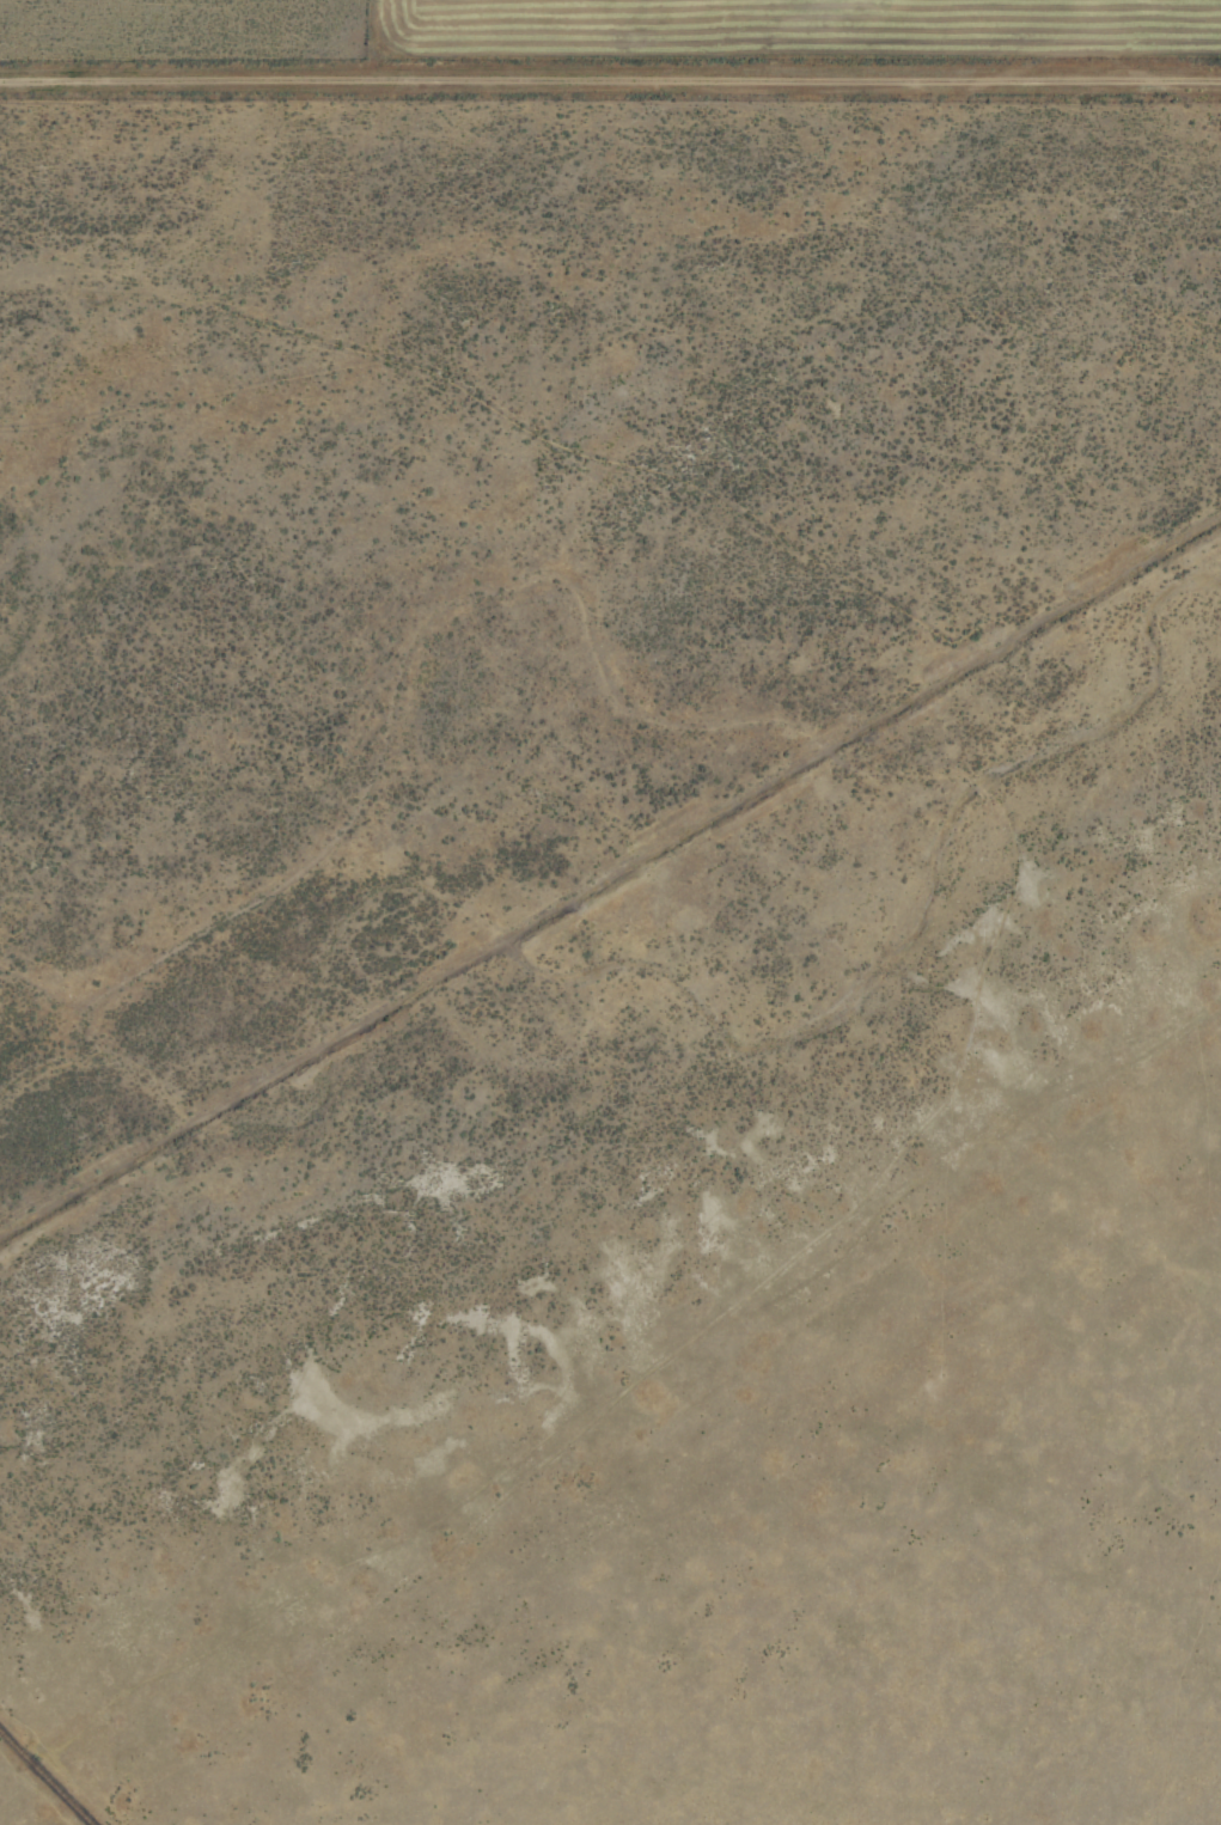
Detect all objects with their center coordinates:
road: (610, 80)
crop: (610, 912)
railway: (45, 1777)

